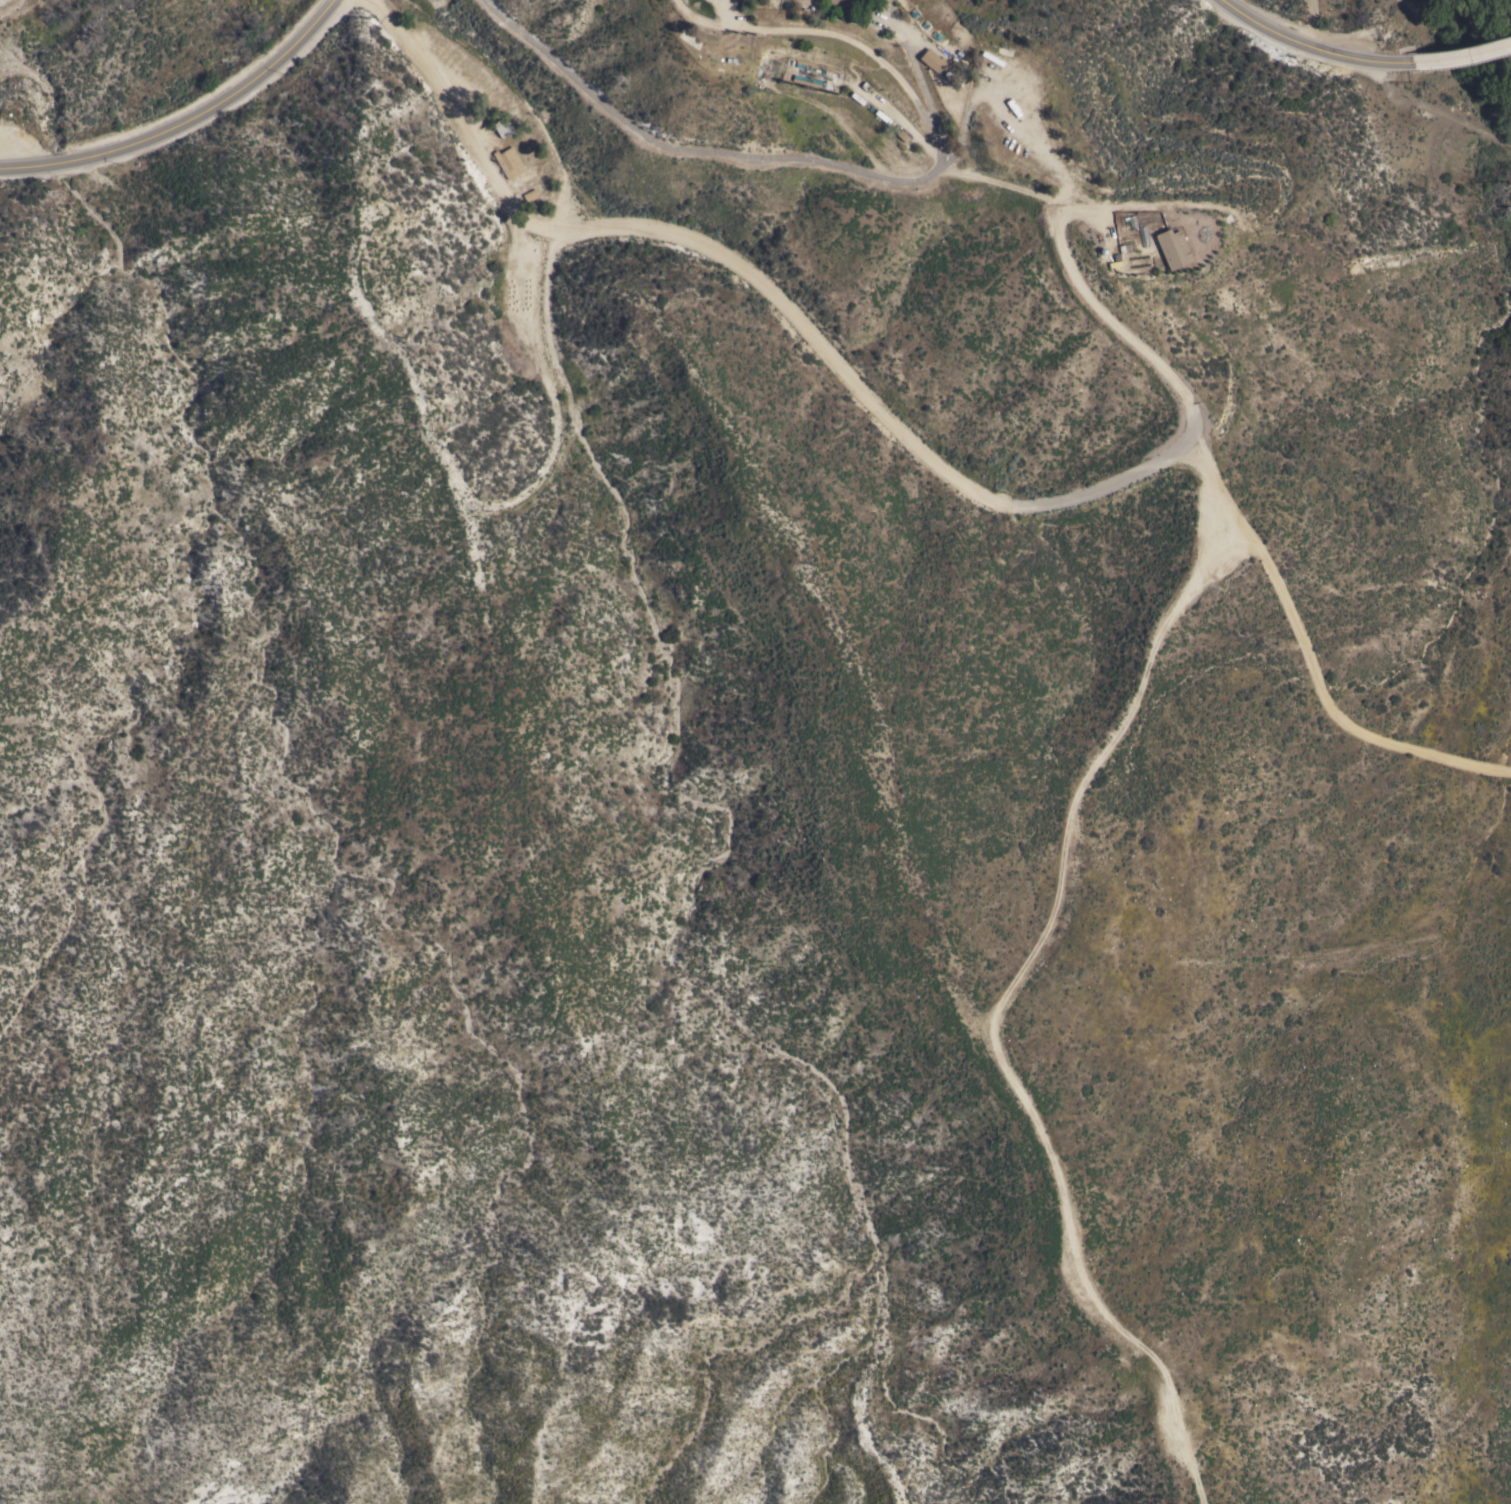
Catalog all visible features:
building: (839, 1)
road: (1310, 23)
road: (841, 36)
road: (1309, 47)
building: (923, 58)
road: (1460, 58)
building: (931, 59)
building: (817, 65)
building: (798, 80)
road: (1435, 112)
road: (186, 122)
building: (501, 126)
road: (750, 156)
building: (508, 161)
building: (527, 193)
building: (1172, 249)
road: (526, 257)
road: (855, 380)
road: (1217, 485)
road: (1003, 1002)

